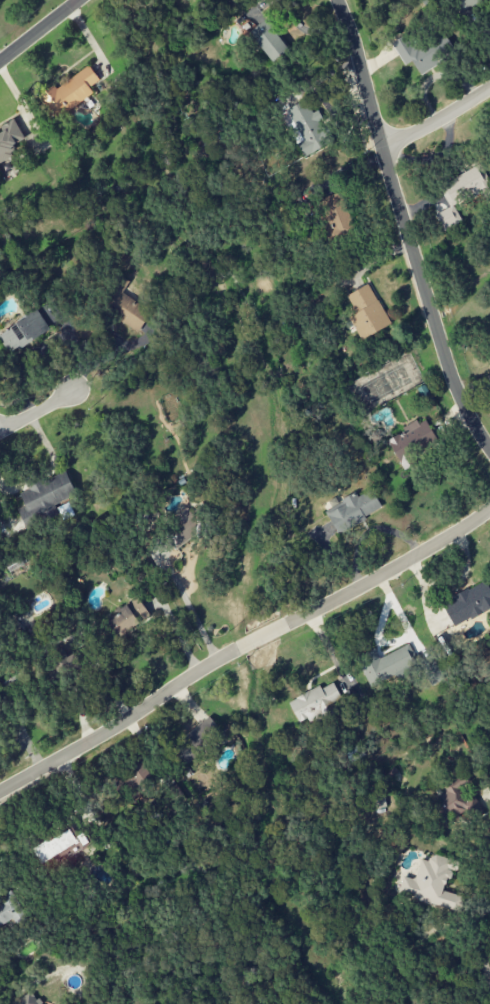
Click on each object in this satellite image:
building: (466, 4)
road: (41, 31)
building: (269, 40)
road: (486, 43)
building: (422, 52)
building: (69, 93)
road: (437, 124)
building: (305, 128)
building: (10, 139)
road: (433, 157)
building: (460, 194)
building: (335, 217)
road: (404, 229)
building: (125, 306)
building: (366, 312)
building: (23, 332)
road: (94, 338)
road: (35, 409)
building: (411, 442)
road: (489, 447)
building: (45, 497)
building: (353, 510)
building: (182, 529)
road: (450, 583)
road: (423, 600)
building: (467, 604)
road: (193, 616)
building: (129, 617)
road: (244, 650)
building: (63, 660)
building: (386, 663)
building: (432, 671)
building: (314, 702)
building: (0, 704)
building: (197, 741)
building: (356, 752)
building: (131, 778)
building: (376, 801)
building: (456, 804)
building: (62, 847)
building: (432, 884)
building: (10, 910)
building: (483, 970)
building: (28, 999)

